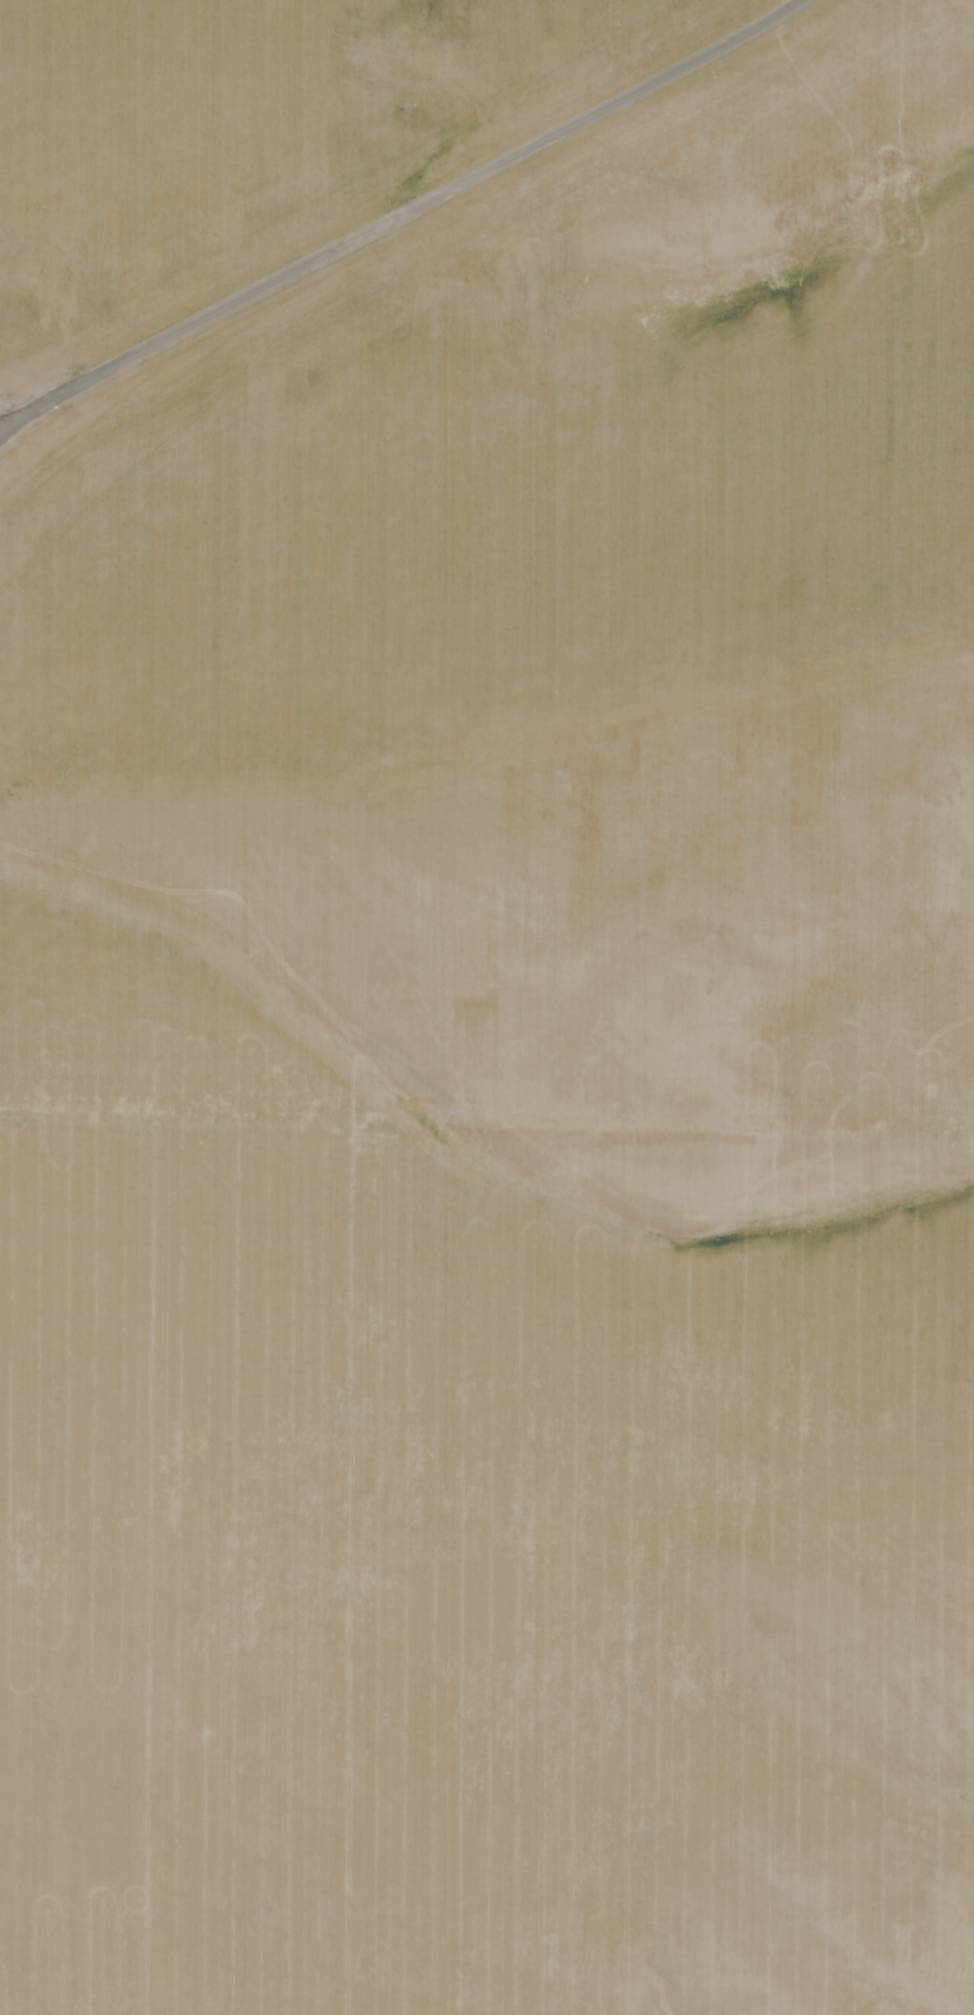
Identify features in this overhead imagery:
road: (385, 203)

